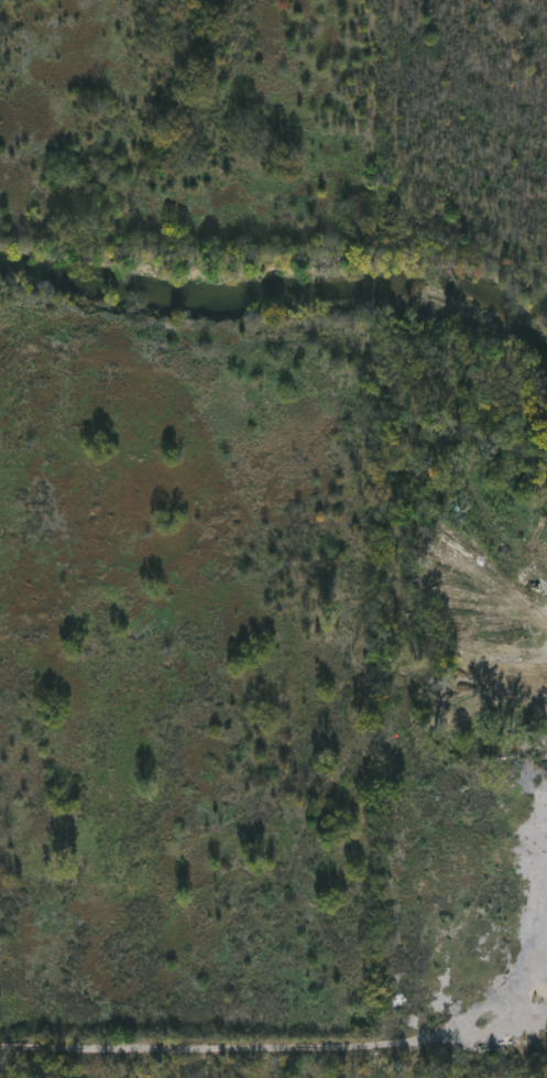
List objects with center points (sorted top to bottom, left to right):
building: (450, 869)
building: (463, 908)
road: (219, 1047)

